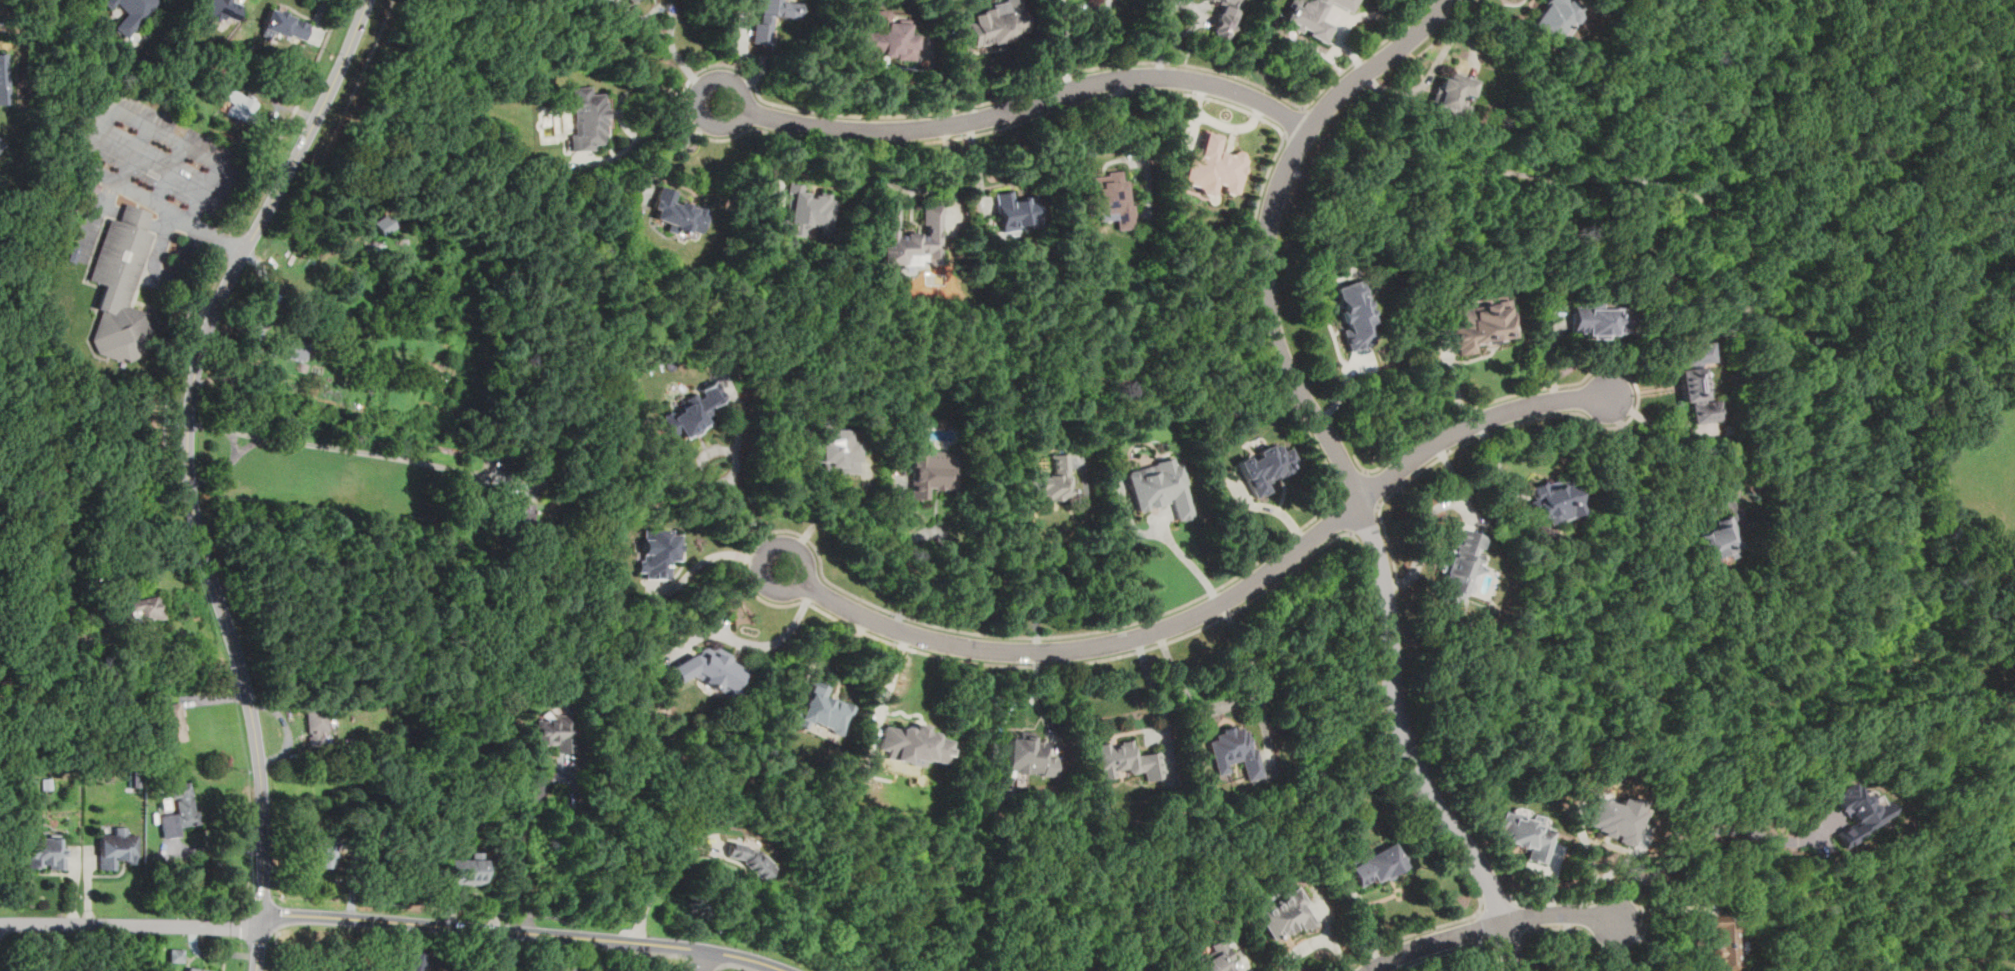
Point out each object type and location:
building: (13, 0)
building: (628, 0)
building: (107, 2)
building: (1347, 3)
road: (1199, 6)
building: (221, 7)
road: (1166, 11)
building: (132, 15)
building: (1551, 16)
building: (1231, 18)
road: (1204, 19)
building: (1313, 19)
building: (283, 23)
building: (995, 23)
building: (761, 32)
building: (888, 38)
road: (664, 42)
road: (1161, 51)
road: (1368, 54)
road: (1432, 63)
building: (4, 78)
road: (360, 78)
road: (687, 86)
building: (1449, 93)
road: (743, 100)
road: (1029, 104)
building: (242, 106)
building: (587, 117)
road: (1295, 122)
road: (1135, 123)
street lamp: (126, 126)
road: (167, 139)
building: (2, 142)
parking lot: (159, 149)
road: (670, 154)
road: (135, 157)
street lamp: (106, 163)
street lamp: (197, 163)
building: (1215, 166)
road: (173, 176)
building: (1109, 197)
street lamp: (177, 201)
road: (166, 207)
building: (1016, 210)
building: (679, 212)
building: (808, 212)
road: (108, 215)
building: (7, 216)
road: (98, 219)
parking lot: (87, 222)
building: (386, 224)
building: (913, 235)
road: (225, 238)
building: (419, 243)
building: (71, 254)
road: (88, 271)
road: (163, 276)
building: (119, 287)
road: (172, 291)
road: (132, 303)
building: (1354, 314)
road: (1789, 315)
building: (1598, 319)
road: (1257, 323)
building: (1480, 323)
building: (293, 351)
building: (1698, 353)
street lamp: (100, 359)
road: (1454, 378)
road: (1638, 392)
building: (1690, 395)
road: (739, 408)
building: (693, 409)
road: (252, 441)
road: (190, 446)
road: (361, 450)
building: (835, 450)
road: (1337, 459)
road: (1673, 461)
road: (227, 462)
road: (1359, 465)
building: (1265, 466)
building: (930, 470)
building: (535, 477)
building: (1054, 478)
road: (708, 482)
building: (1161, 486)
building: (1550, 499)
road: (1713, 507)
road: (838, 508)
building: (520, 514)
road: (746, 514)
road: (1429, 514)
road: (1352, 531)
building: (1722, 538)
road: (950, 545)
road: (1389, 547)
building: (657, 552)
road: (765, 554)
road: (750, 555)
road: (707, 558)
road: (1187, 559)
road: (1072, 560)
building: (1459, 567)
road: (1219, 601)
building: (147, 608)
road: (754, 642)
road: (826, 645)
building: (710, 669)
road: (890, 681)
road: (1155, 686)
road: (1238, 702)
building: (818, 709)
building: (175, 721)
building: (317, 725)
road: (1387, 729)
building: (557, 731)
building: (911, 744)
building: (1235, 750)
building: (1027, 756)
building: (1126, 758)
building: (181, 810)
building: (1860, 811)
building: (1617, 817)
road: (1706, 832)
building: (1525, 833)
road: (519, 842)
building: (117, 847)
building: (45, 851)
building: (325, 851)
building: (750, 858)
building: (1378, 863)
building: (464, 869)
road: (664, 878)
road: (1514, 900)
road: (1512, 906)
road: (1479, 912)
building: (1287, 913)
road: (1362, 917)
road: (1645, 917)
traffic signals: (261, 921)
road: (131, 923)
road: (277, 924)
road: (1488, 927)
road: (1482, 928)
road: (525, 931)
road: (1332, 933)
road: (1411, 936)
road: (1524, 937)
road: (1563, 941)
building: (1722, 944)
road: (1486, 945)
road: (1964, 945)
road: (258, 946)
road: (1671, 946)
road: (1510, 949)
road: (1619, 949)
road: (275, 951)
road: (1496, 952)
building: (176, 954)
road: (646, 955)
road: (1441, 955)
building: (1217, 958)
building: (416, 959)
road: (708, 960)
road: (1498, 961)
road: (706, 962)
road: (689, 965)
road: (1249, 966)
road: (733, 968)
building: (197, 969)

